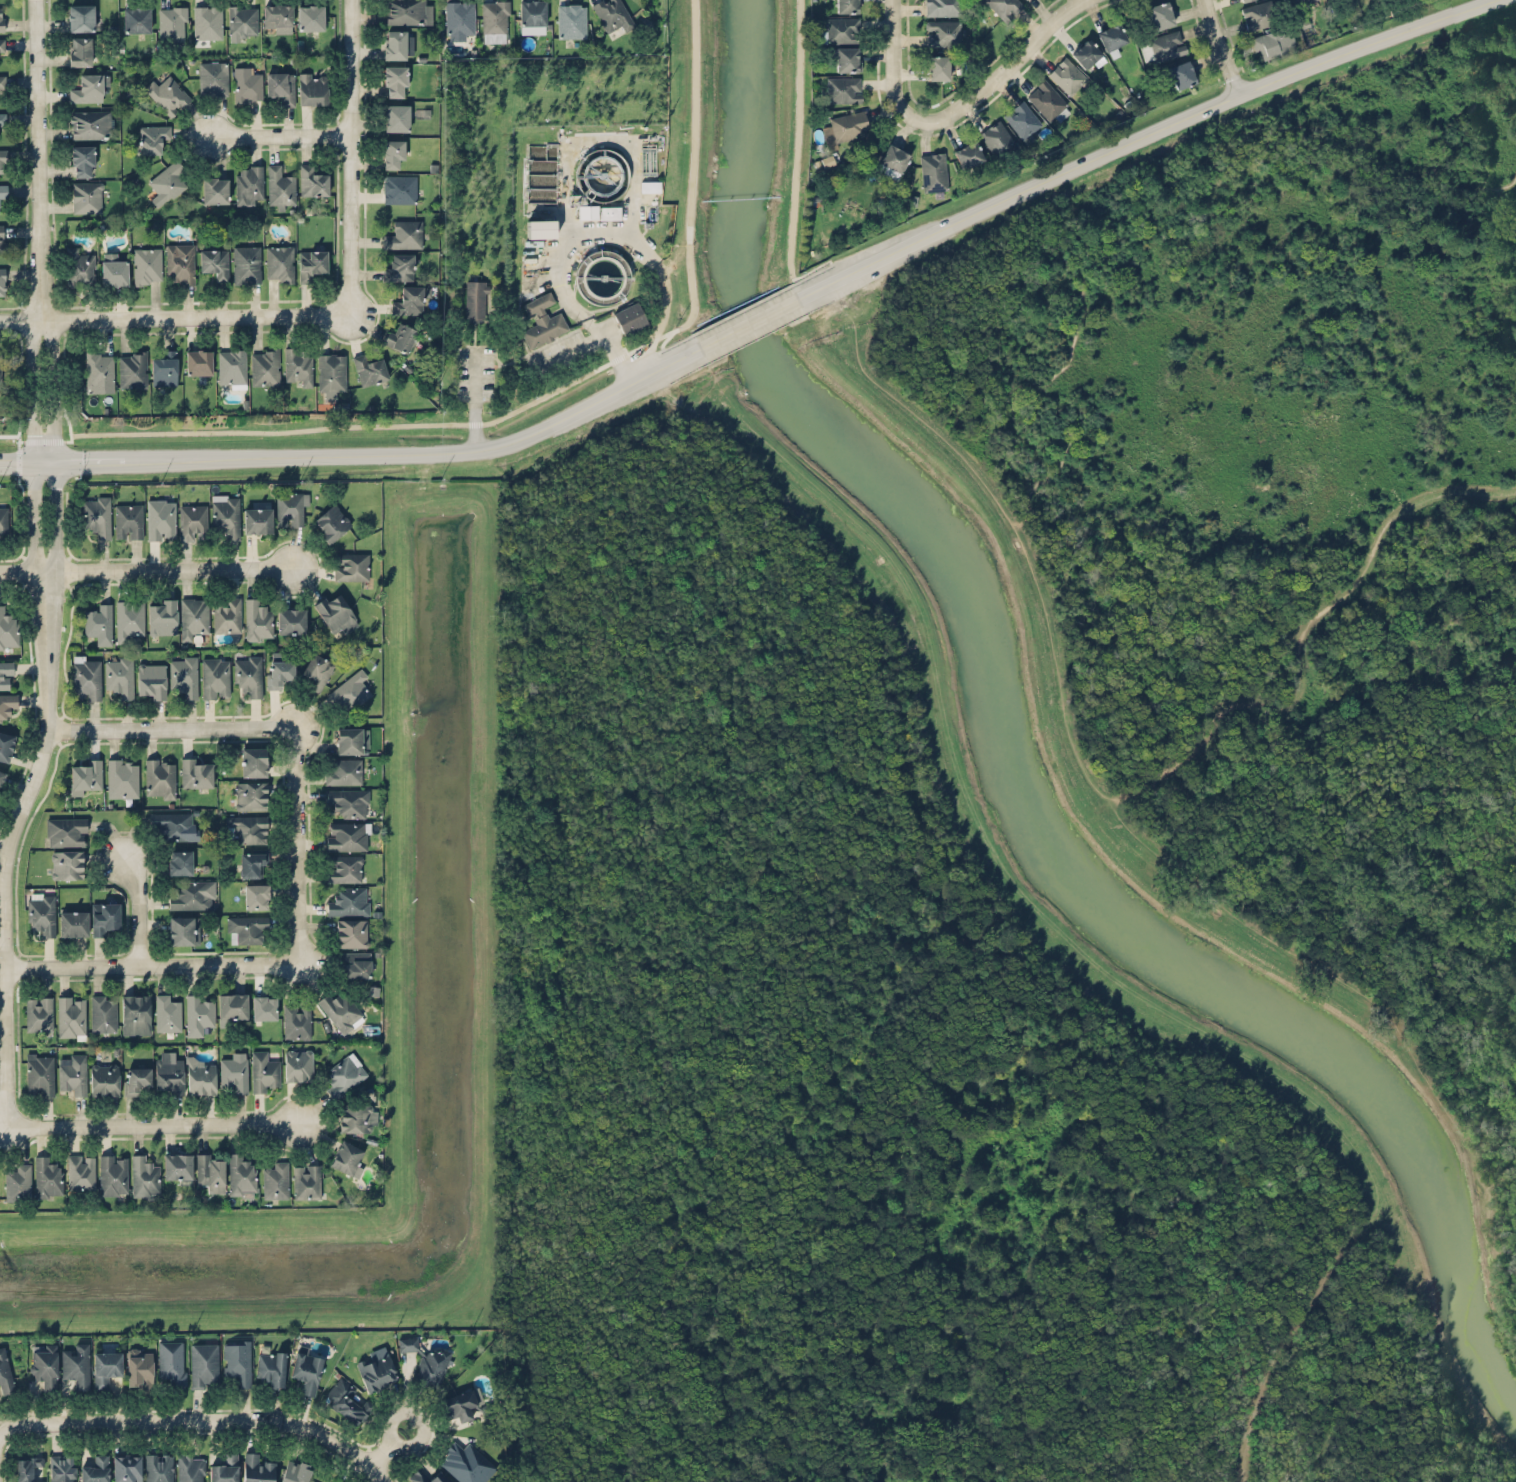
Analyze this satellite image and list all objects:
building: (1241, 0)
building: (1301, 1)
building: (847, 5)
building: (943, 7)
building: (1004, 7)
building: (407, 11)
building: (531, 12)
building: (613, 14)
building: (1160, 14)
building: (1256, 15)
building: (1, 16)
building: (81, 16)
building: (310, 16)
building: (277, 17)
building: (458, 18)
building: (136, 19)
building: (242, 20)
building: (495, 20)
building: (571, 20)
building: (207, 21)
building: (171, 23)
building: (840, 29)
building: (943, 32)
building: (1112, 37)
building: (1273, 42)
building: (398, 43)
road: (1228, 44)
building: (2, 45)
building: (1162, 46)
building: (80, 50)
building: (1086, 53)
building: (847, 58)
road: (898, 59)
building: (937, 67)
road: (1005, 72)
building: (1182, 73)
building: (1067, 75)
building: (212, 77)
building: (395, 79)
building: (2, 83)
building: (246, 83)
building: (90, 85)
building: (281, 86)
building: (312, 88)
building: (844, 89)
building: (167, 93)
building: (1048, 101)
building: (395, 116)
building: (1023, 120)
building: (2, 121)
building: (91, 124)
building: (846, 127)
road: (279, 135)
road: (1131, 136)
building: (151, 137)
building: (998, 138)
building: (393, 153)
building: (968, 154)
road: (351, 155)
building: (3, 158)
road: (38, 160)
building: (82, 160)
building: (892, 160)
building: (599, 170)
building: (933, 171)
building: (312, 181)
building: (168, 183)
building: (248, 183)
building: (650, 185)
building: (279, 186)
building: (399, 188)
building: (214, 189)
building: (3, 192)
building: (86, 196)
road: (1486, 203)
building: (588, 211)
building: (610, 212)
building: (540, 228)
building: (402, 233)
building: (1, 237)
road: (563, 250)
building: (179, 262)
building: (214, 262)
building: (280, 263)
building: (310, 263)
building: (245, 264)
building: (146, 265)
building: (79, 267)
building: (398, 267)
building: (113, 269)
building: (3, 280)
building: (410, 298)
building: (475, 300)
road: (171, 316)
building: (631, 317)
building: (542, 320)
road: (750, 321)
road: (596, 335)
building: (400, 337)
building: (198, 361)
building: (264, 365)
building: (297, 366)
building: (231, 367)
building: (132, 368)
building: (163, 368)
building: (369, 369)
building: (99, 370)
building: (0, 371)
building: (330, 372)
road: (50, 375)
road: (30, 376)
road: (474, 396)
road: (445, 446)
road: (107, 457)
traffic signals: (83, 458)
road: (41, 459)
road: (15, 460)
road: (31, 460)
road: (52, 460)
building: (291, 507)
building: (96, 514)
building: (225, 514)
building: (4, 518)
building: (160, 518)
building: (128, 520)
building: (257, 520)
building: (192, 521)
building: (331, 522)
road: (33, 529)
road: (52, 530)
building: (350, 565)
road: (149, 568)
building: (336, 611)
building: (226, 614)
building: (162, 615)
building: (193, 616)
building: (128, 618)
building: (257, 619)
building: (291, 620)
building: (99, 622)
building: (8, 629)
road: (1302, 641)
building: (279, 669)
building: (317, 670)
building: (6, 674)
building: (183, 674)
building: (248, 674)
building: (119, 675)
building: (86, 676)
building: (215, 677)
building: (151, 680)
building: (349, 690)
building: (7, 704)
road: (143, 731)
building: (351, 739)
building: (5, 745)
building: (253, 761)
river: (1013, 764)
building: (196, 771)
building: (343, 771)
building: (1, 774)
building: (85, 775)
building: (122, 777)
building: (160, 777)
building: (251, 794)
building: (347, 801)
building: (171, 824)
building: (247, 827)
building: (65, 831)
building: (347, 835)
road: (12, 846)
park: (1043, 846)
road: (298, 851)
building: (179, 862)
building: (253, 862)
building: (66, 864)
building: (344, 867)
building: (189, 894)
building: (255, 895)
building: (348, 900)
road: (139, 909)
building: (40, 912)
building: (103, 917)
building: (73, 922)
building: (245, 927)
building: (183, 929)
building: (351, 932)
building: (355, 964)
road: (120, 968)
building: (232, 1005)
building: (264, 1006)
building: (340, 1010)
building: (167, 1011)
building: (39, 1013)
building: (103, 1013)
building: (135, 1014)
building: (198, 1014)
building: (71, 1017)
building: (296, 1020)
building: (298, 1064)
building: (263, 1070)
building: (234, 1071)
building: (72, 1072)
building: (168, 1073)
building: (39, 1074)
building: (201, 1074)
building: (343, 1074)
building: (104, 1078)
building: (136, 1078)
building: (355, 1117)
road: (152, 1126)
building: (346, 1157)
building: (177, 1167)
building: (80, 1171)
building: (210, 1172)
building: (113, 1174)
building: (241, 1174)
building: (144, 1176)
building: (46, 1177)
building: (275, 1180)
building: (306, 1181)
building: (18, 1182)
building: (408, 1343)
building: (236, 1360)
building: (172, 1362)
building: (44, 1365)
building: (75, 1365)
building: (203, 1365)
building: (431, 1366)
building: (140, 1367)
building: (105, 1368)
building: (270, 1368)
building: (376, 1368)
building: (306, 1370)
building: (4, 1373)
building: (346, 1401)
building: (468, 1405)
road: (188, 1420)
road: (388, 1446)
building: (467, 1462)
building: (26, 1467)
building: (62, 1467)
building: (126, 1467)
building: (159, 1467)
building: (191, 1467)
building: (224, 1468)
building: (256, 1468)
building: (95, 1469)
building: (295, 1471)
road: (376, 1473)
road: (392, 1475)
building: (426, 1476)
building: (334, 1481)

